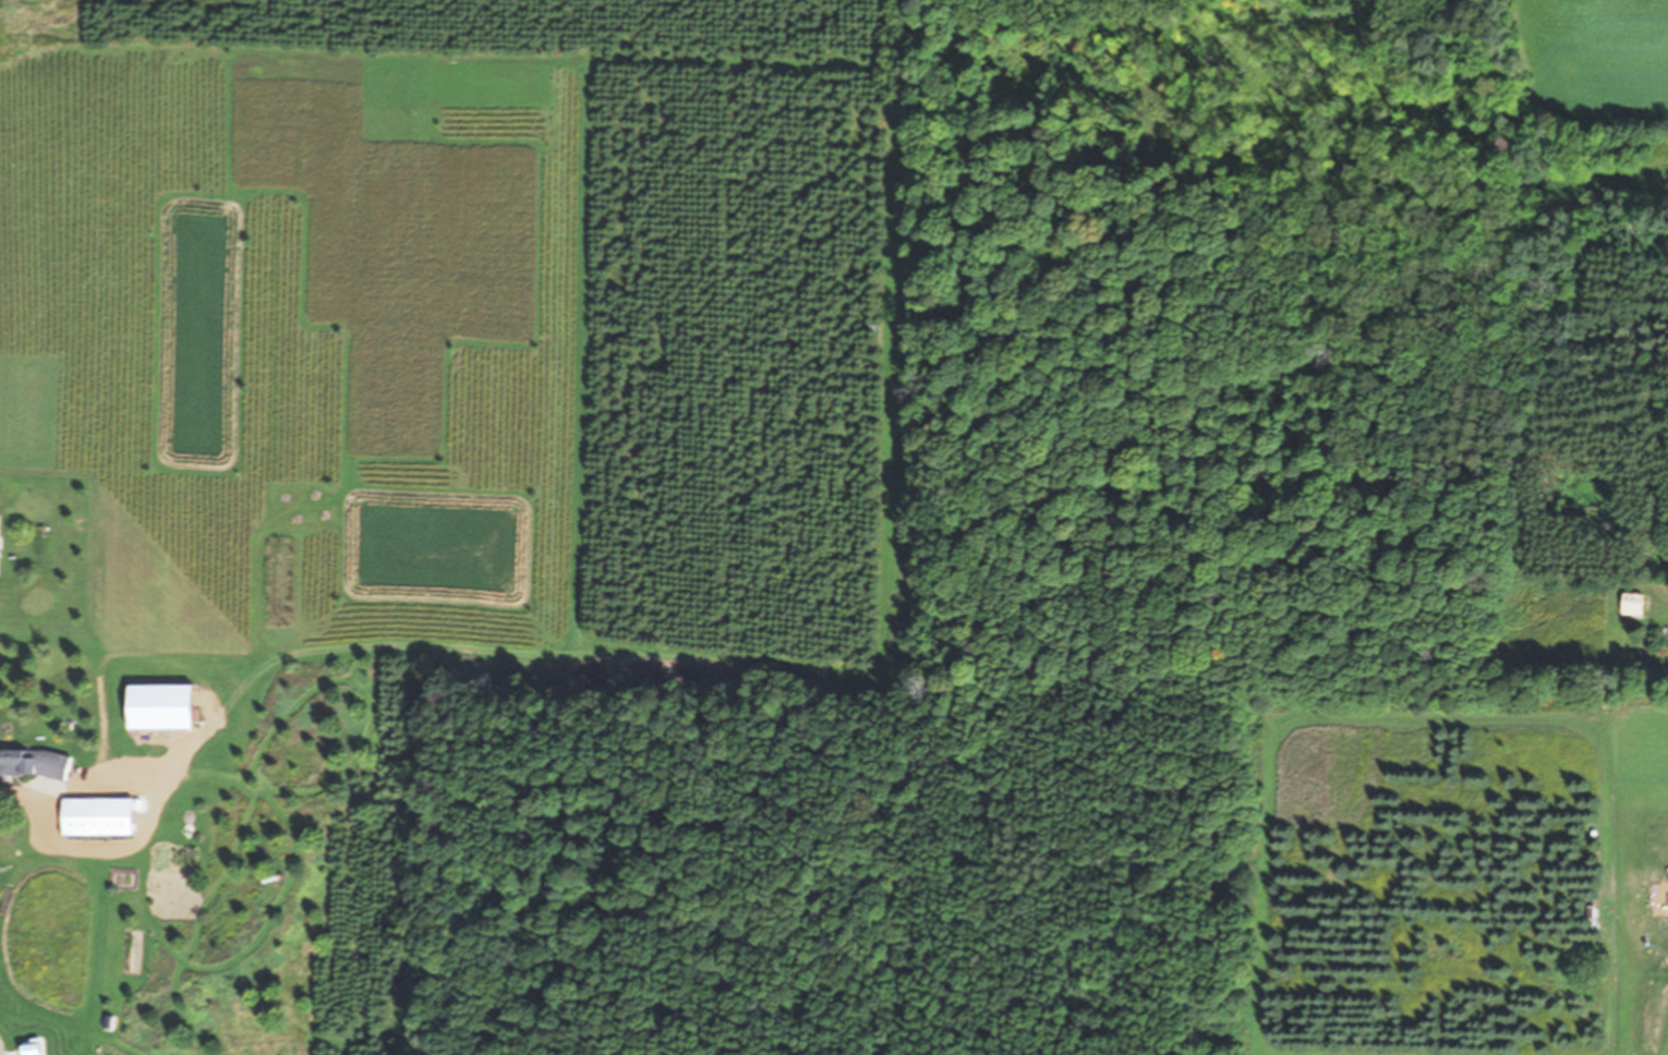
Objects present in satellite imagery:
building: (0, 544)
building: (169, 705)
building: (37, 762)
building: (104, 815)
building: (38, 1050)

